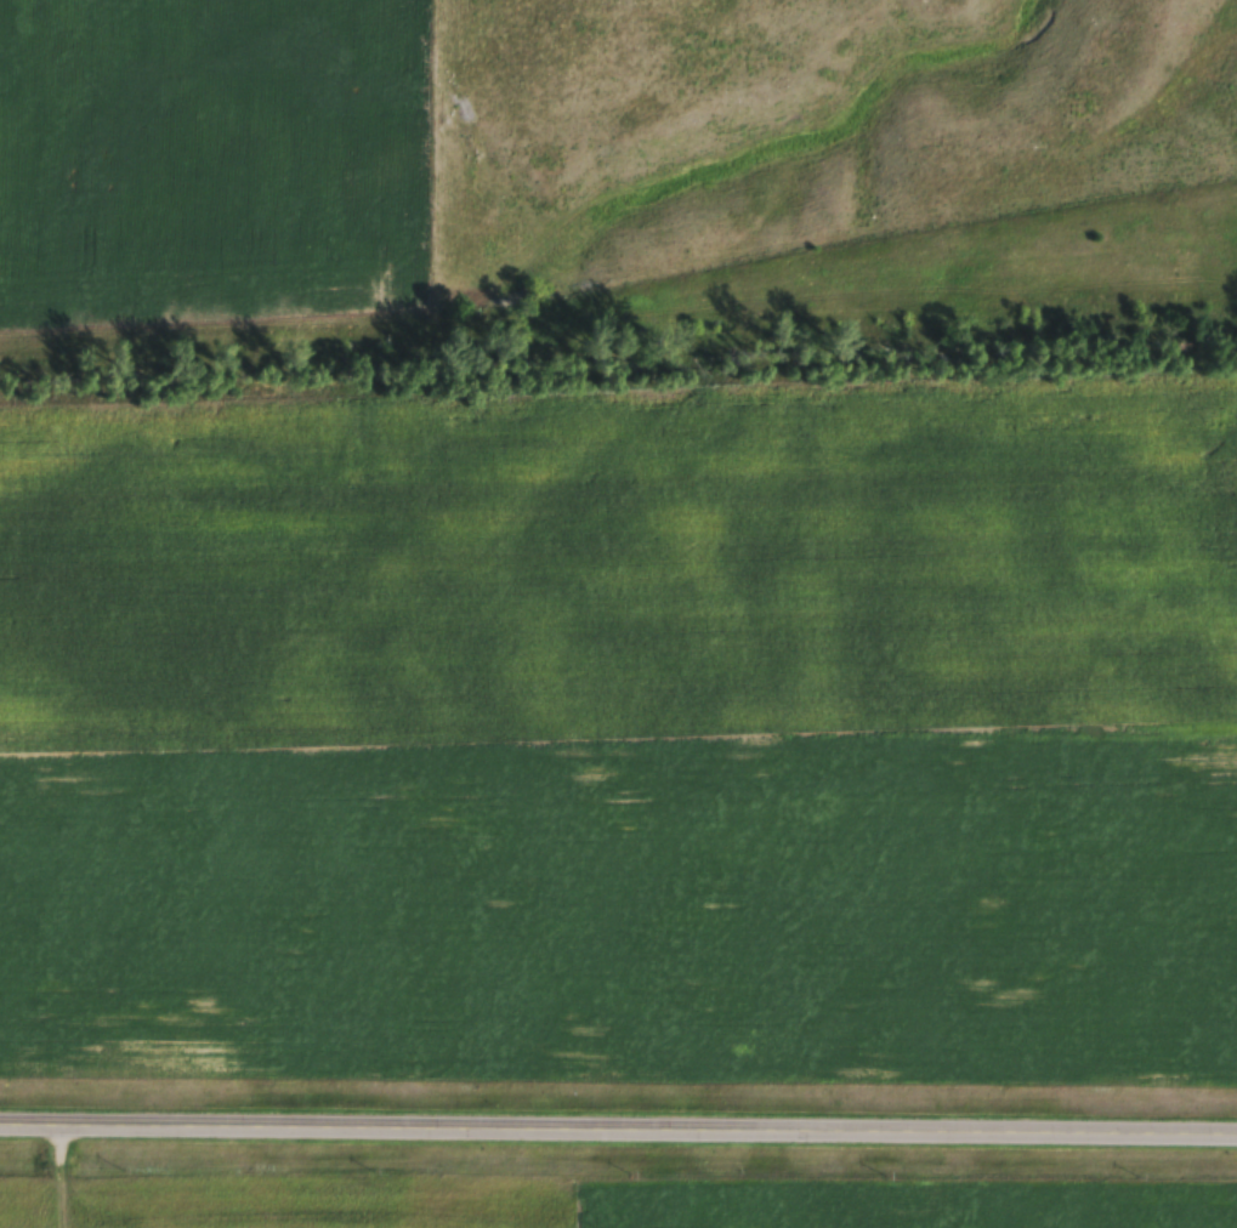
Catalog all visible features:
road: (618, 1128)

